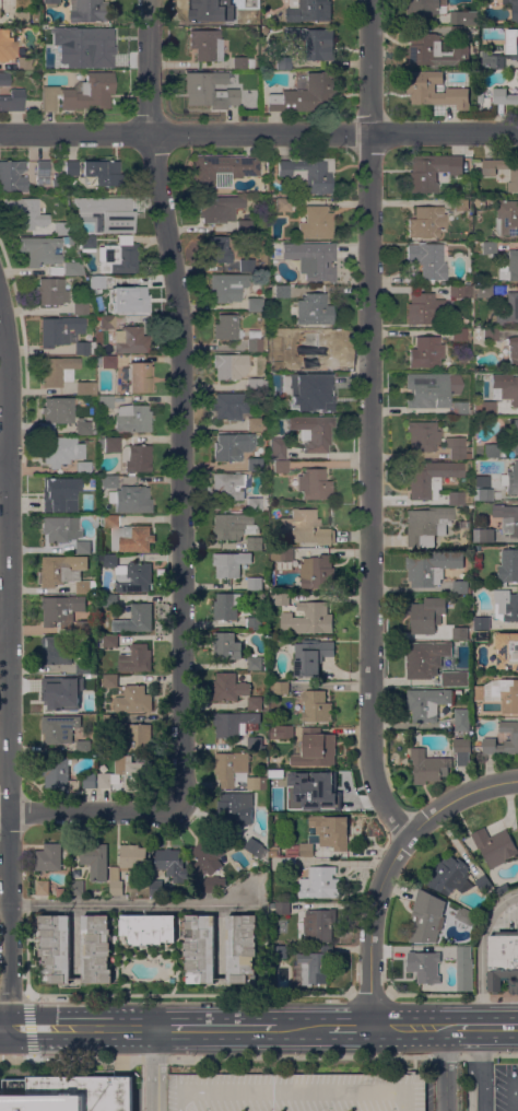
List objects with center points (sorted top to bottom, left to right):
building: (52, 1)
building: (426, 7)
building: (513, 8)
building: (0, 9)
building: (207, 10)
building: (89, 11)
building: (309, 11)
building: (460, 17)
building: (23, 19)
building: (459, 33)
building: (7, 45)
building: (207, 45)
building: (318, 45)
building: (94, 46)
building: (436, 52)
building: (514, 52)
building: (493, 60)
building: (24, 62)
building: (58, 62)
building: (243, 62)
building: (258, 62)
building: (283, 62)
building: (4, 79)
building: (211, 90)
building: (431, 90)
building: (81, 93)
building: (305, 94)
building: (504, 96)
building: (481, 97)
building: (13, 101)
building: (240, 108)
building: (263, 108)
road: (258, 133)
building: (264, 159)
building: (59, 161)
building: (71, 167)
building: (104, 171)
building: (223, 171)
building: (43, 172)
building: (432, 172)
building: (309, 173)
building: (12, 175)
building: (515, 179)
building: (56, 180)
building: (281, 203)
building: (461, 203)
building: (480, 203)
building: (78, 204)
building: (220, 208)
building: (24, 212)
building: (115, 217)
building: (507, 218)
building: (426, 221)
building: (316, 223)
building: (244, 226)
building: (62, 227)
building: (475, 236)
building: (72, 239)
building: (86, 242)
building: (490, 247)
building: (217, 249)
building: (40, 250)
building: (119, 257)
building: (314, 259)
building: (428, 259)
building: (511, 264)
building: (247, 265)
building: (73, 268)
building: (56, 269)
building: (98, 281)
building: (227, 286)
building: (51, 291)
building: (282, 291)
building: (461, 291)
building: (484, 291)
building: (126, 299)
building: (255, 304)
building: (513, 307)
building: (81, 308)
building: (426, 308)
building: (314, 309)
building: (108, 321)
building: (227, 327)
building: (66, 334)
building: (491, 334)
building: (460, 335)
building: (131, 339)
building: (255, 340)
building: (313, 348)
building: (513, 351)
building: (426, 352)
building: (107, 362)
building: (229, 365)
building: (58, 371)
building: (140, 377)
building: (283, 378)
building: (257, 384)
building: (86, 387)
building: (432, 389)
building: (509, 389)
building: (479, 395)
building: (317, 396)
building: (106, 401)
road: (183, 401)
building: (232, 406)
building: (460, 407)
building: (485, 407)
building: (56, 413)
building: (133, 419)
building: (255, 424)
building: (86, 426)
building: (314, 431)
building: (514, 433)
building: (423, 436)
building: (111, 445)
building: (233, 446)
building: (456, 447)
building: (279, 448)
building: (487, 449)
building: (62, 451)
building: (139, 458)
building: (255, 464)
building: (282, 466)
road: (4, 468)
building: (84, 468)
building: (431, 478)
building: (513, 479)
building: (108, 481)
building: (315, 484)
building: (228, 486)
building: (483, 494)
building: (59, 495)
building: (456, 498)
building: (131, 499)
building: (469, 500)
building: (255, 503)
building: (507, 518)
road: (372, 524)
building: (427, 525)
building: (305, 528)
building: (62, 529)
building: (238, 529)
building: (484, 536)
building: (129, 537)
building: (84, 548)
building: (282, 554)
building: (231, 564)
building: (508, 568)
building: (433, 569)
building: (66, 572)
building: (318, 573)
building: (129, 574)
building: (255, 584)
building: (461, 587)
building: (282, 599)
building: (110, 601)
building: (506, 606)
building: (228, 607)
building: (62, 612)
building: (426, 616)
building: (137, 620)
building: (308, 620)
building: (256, 623)
building: (84, 628)
building: (482, 628)
building: (461, 634)
road: (4, 640)
building: (110, 641)
building: (227, 646)
building: (58, 650)
building: (507, 651)
building: (311, 656)
building: (425, 658)
building: (137, 659)
building: (255, 664)
road: (9, 665)
building: (84, 666)
building: (456, 678)
building: (92, 679)
building: (110, 681)
building: (229, 688)
building: (282, 688)
building: (63, 689)
building: (499, 694)
building: (134, 700)
building: (255, 704)
building: (427, 704)
building: (316, 706)
building: (84, 707)
building: (110, 721)
building: (462, 721)
building: (234, 724)
building: (60, 728)
building: (282, 733)
building: (515, 736)
building: (136, 737)
building: (255, 744)
building: (84, 747)
building: (316, 749)
building: (462, 750)
building: (428, 767)
building: (231, 768)
building: (134, 774)
building: (60, 775)
building: (287, 776)
building: (90, 781)
building: (105, 781)
building: (258, 784)
building: (319, 794)
road: (459, 797)
building: (236, 808)
road: (91, 811)
building: (330, 832)
building: (495, 847)
building: (256, 849)
building: (306, 851)
building: (209, 855)
building: (132, 856)
building: (49, 857)
building: (96, 861)
building: (290, 863)
building: (172, 864)
building: (449, 876)
building: (116, 881)
building: (213, 884)
building: (320, 884)
building: (484, 884)
building: (43, 888)
building: (78, 888)
building: (157, 888)
building: (503, 888)
building: (58, 892)
road: (126, 903)
building: (283, 908)
building: (427, 917)
building: (466, 917)
building: (318, 925)
building: (148, 929)
building: (56, 948)
building: (242, 948)
building: (201, 949)
building: (96, 950)
road: (482, 951)
building: (280, 952)
building: (503, 961)
building: (427, 967)
building: (311, 969)
building: (464, 969)
road: (367, 995)
road: (451, 995)
road: (12, 996)
road: (188, 996)
road: (4, 1028)
road: (82, 1028)
road: (216, 1028)
road: (323, 1028)
road: (408, 1028)
road: (454, 1028)
road: (471, 1028)
road: (499, 1028)
road: (480, 1043)
road: (258, 1056)
road: (155, 1069)
road: (446, 1069)
road: (472, 1084)
road: (485, 1084)
parking lot: (499, 1090)
building: (296, 1092)
parking garage: (296, 1092)
road: (296, 1092)
building: (73, 1095)
road: (185, 1098)
road: (515, 1098)
road: (403, 1099)

